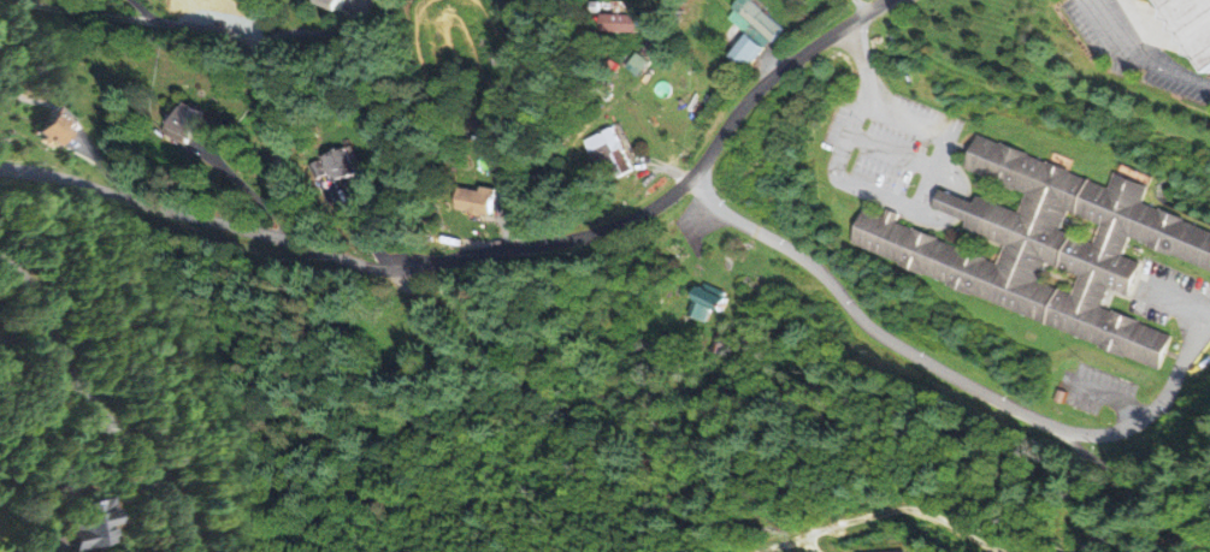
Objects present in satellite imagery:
road: (872, 4)
building: (331, 5)
building: (1192, 24)
building: (760, 31)
road: (306, 32)
road: (254, 44)
road: (1137, 57)
building: (190, 127)
building: (59, 130)
building: (618, 154)
building: (336, 166)
building: (477, 202)
building: (1050, 245)
road: (482, 254)
road: (1176, 301)
building: (714, 303)
road: (937, 369)
road: (96, 406)
road: (1149, 410)
building: (106, 523)
road: (31, 550)

